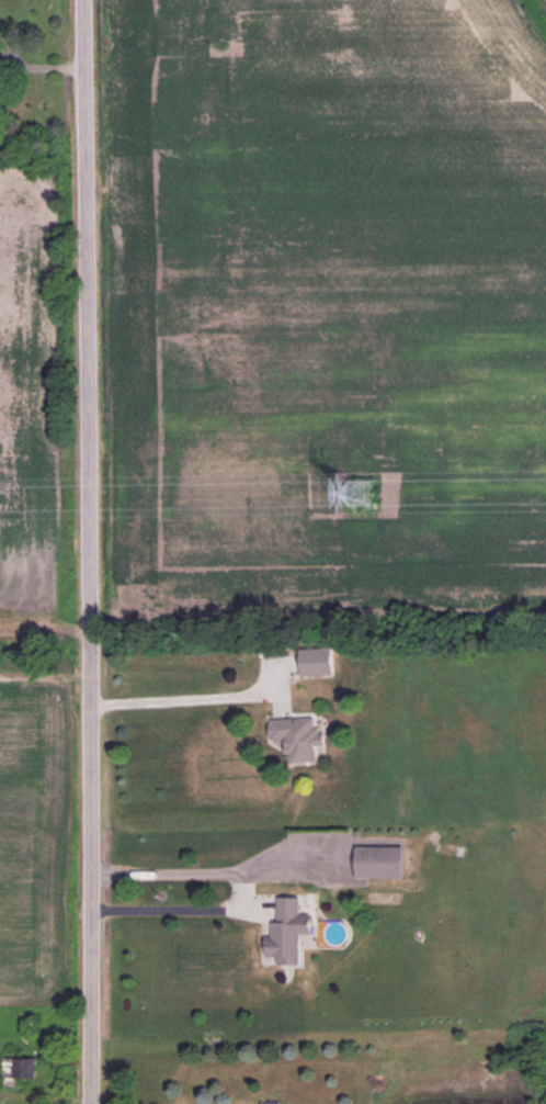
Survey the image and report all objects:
power tower: (357, 493)
road: (89, 551)
building: (316, 661)
road: (180, 707)
building: (298, 736)
building: (378, 861)
road: (247, 901)
building: (287, 931)
building: (20, 1067)

